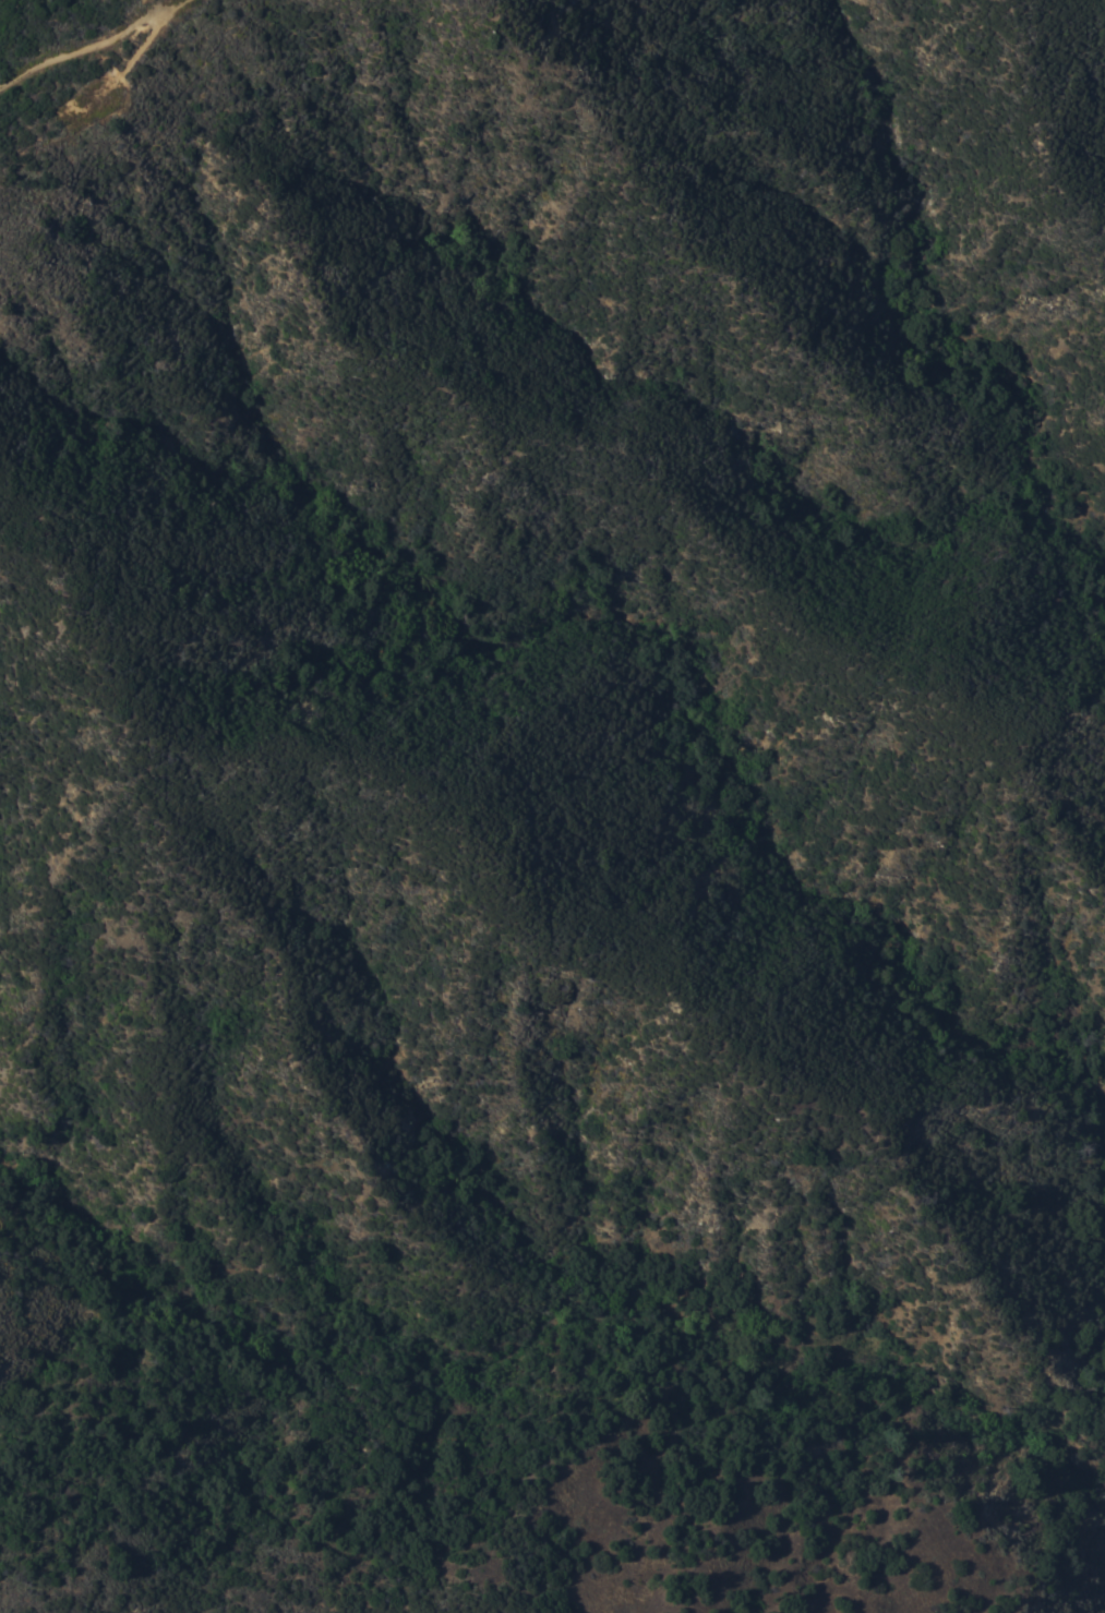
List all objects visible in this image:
road: (91, 44)

